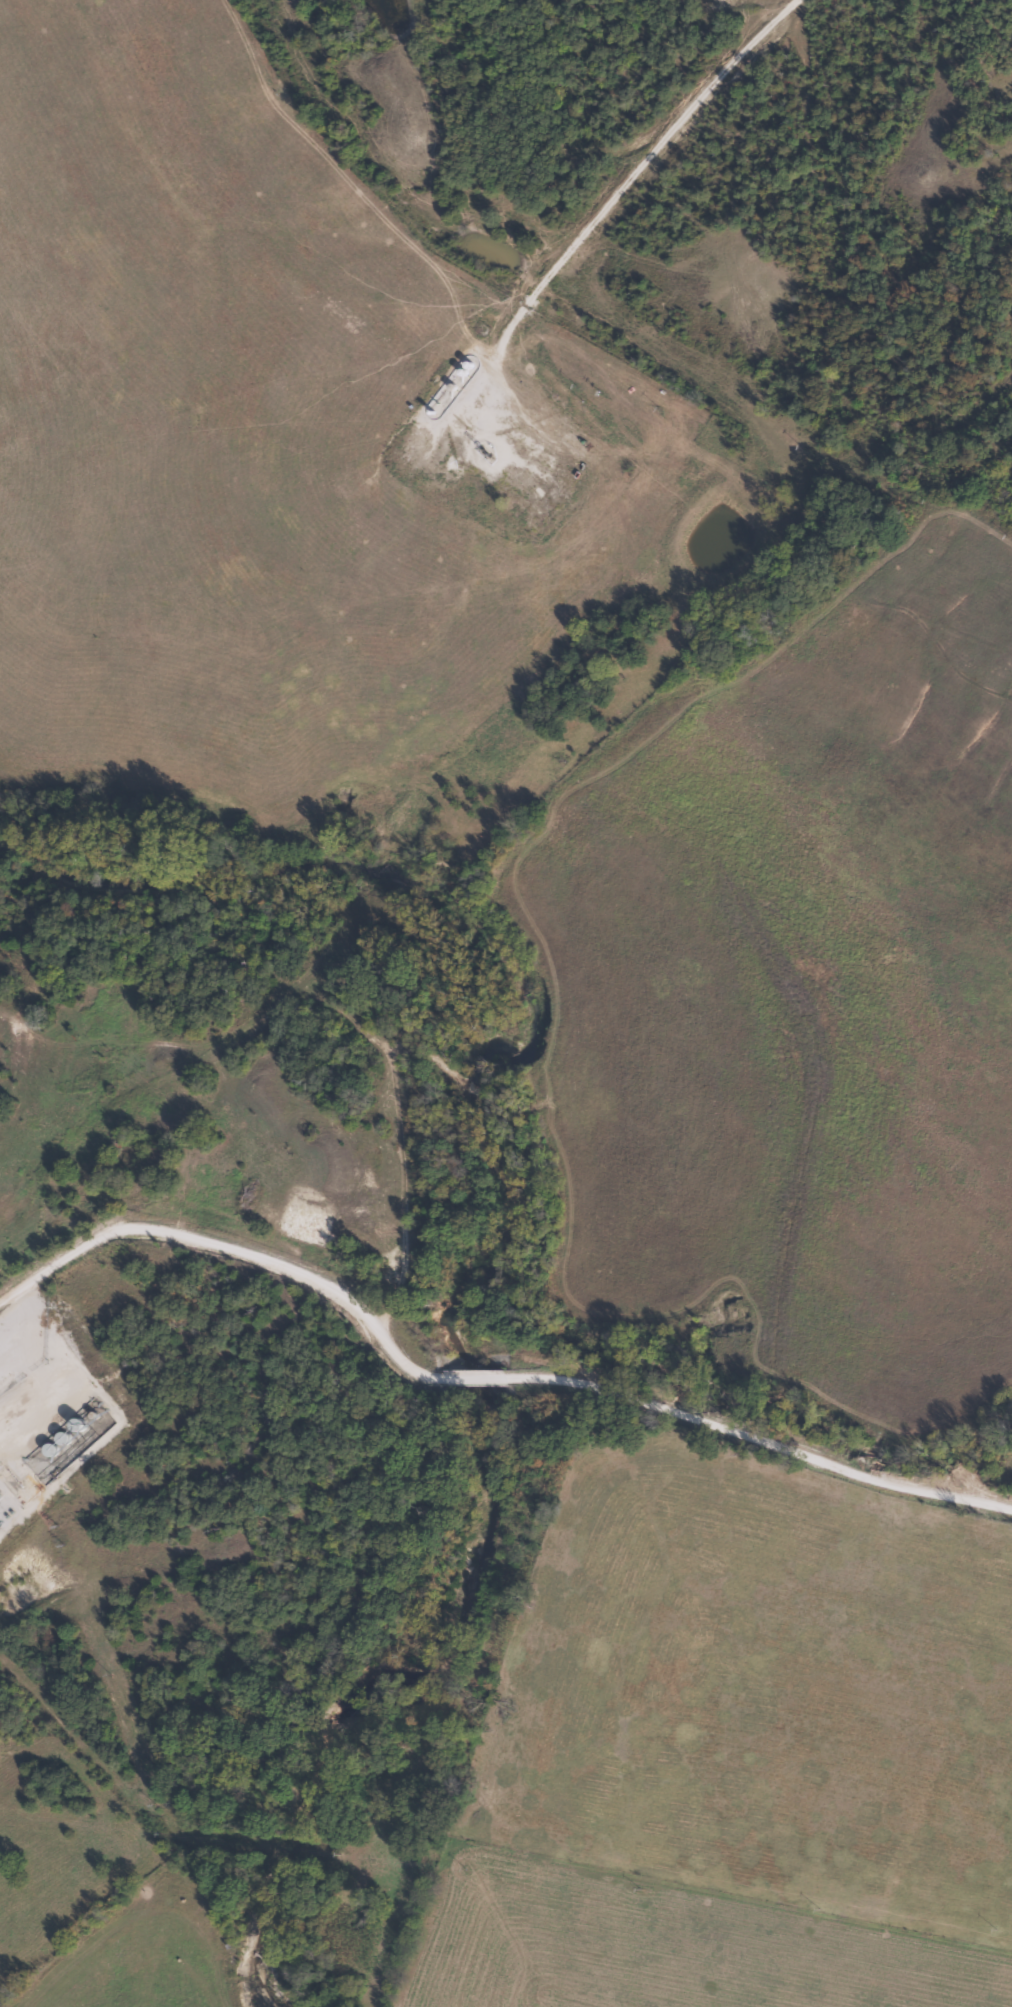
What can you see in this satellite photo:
road: (619, 186)
road: (43, 1363)
road: (482, 1372)
building: (1, 1495)

